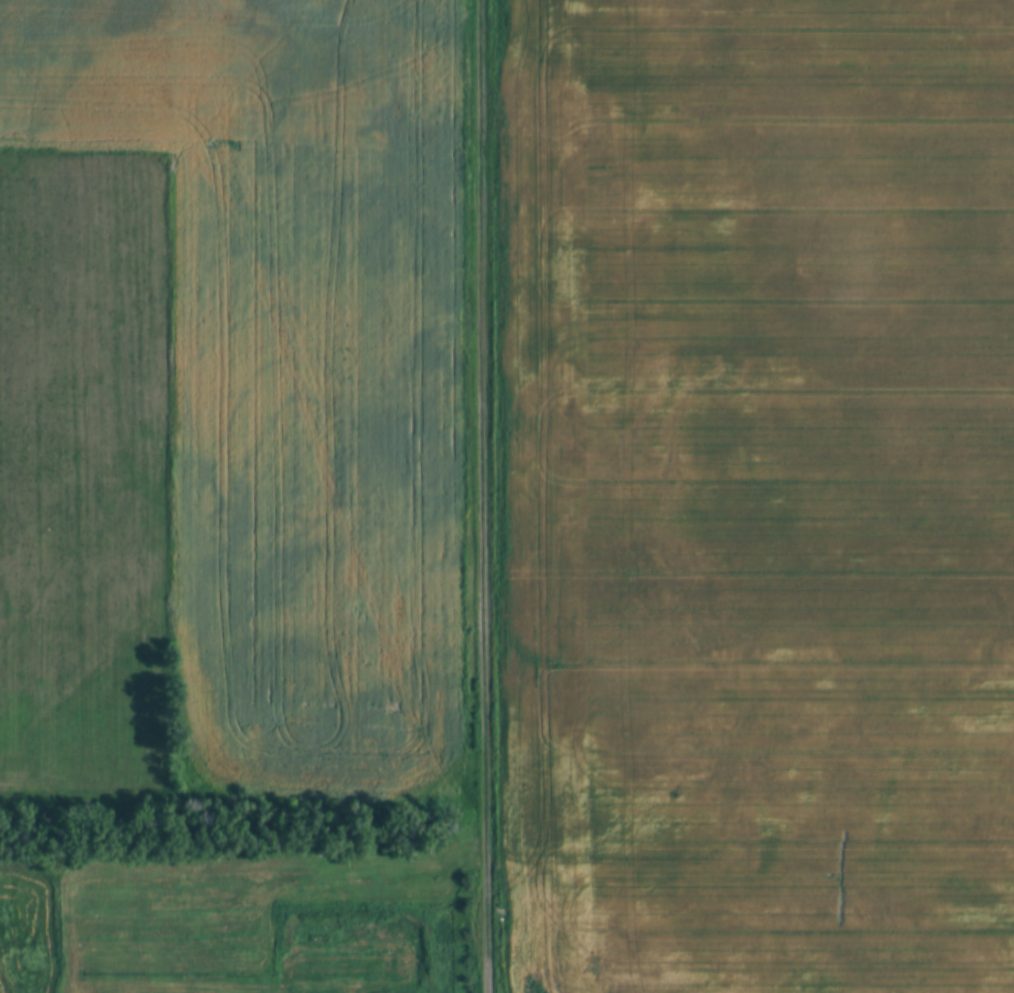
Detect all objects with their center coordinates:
road: (486, 496)

